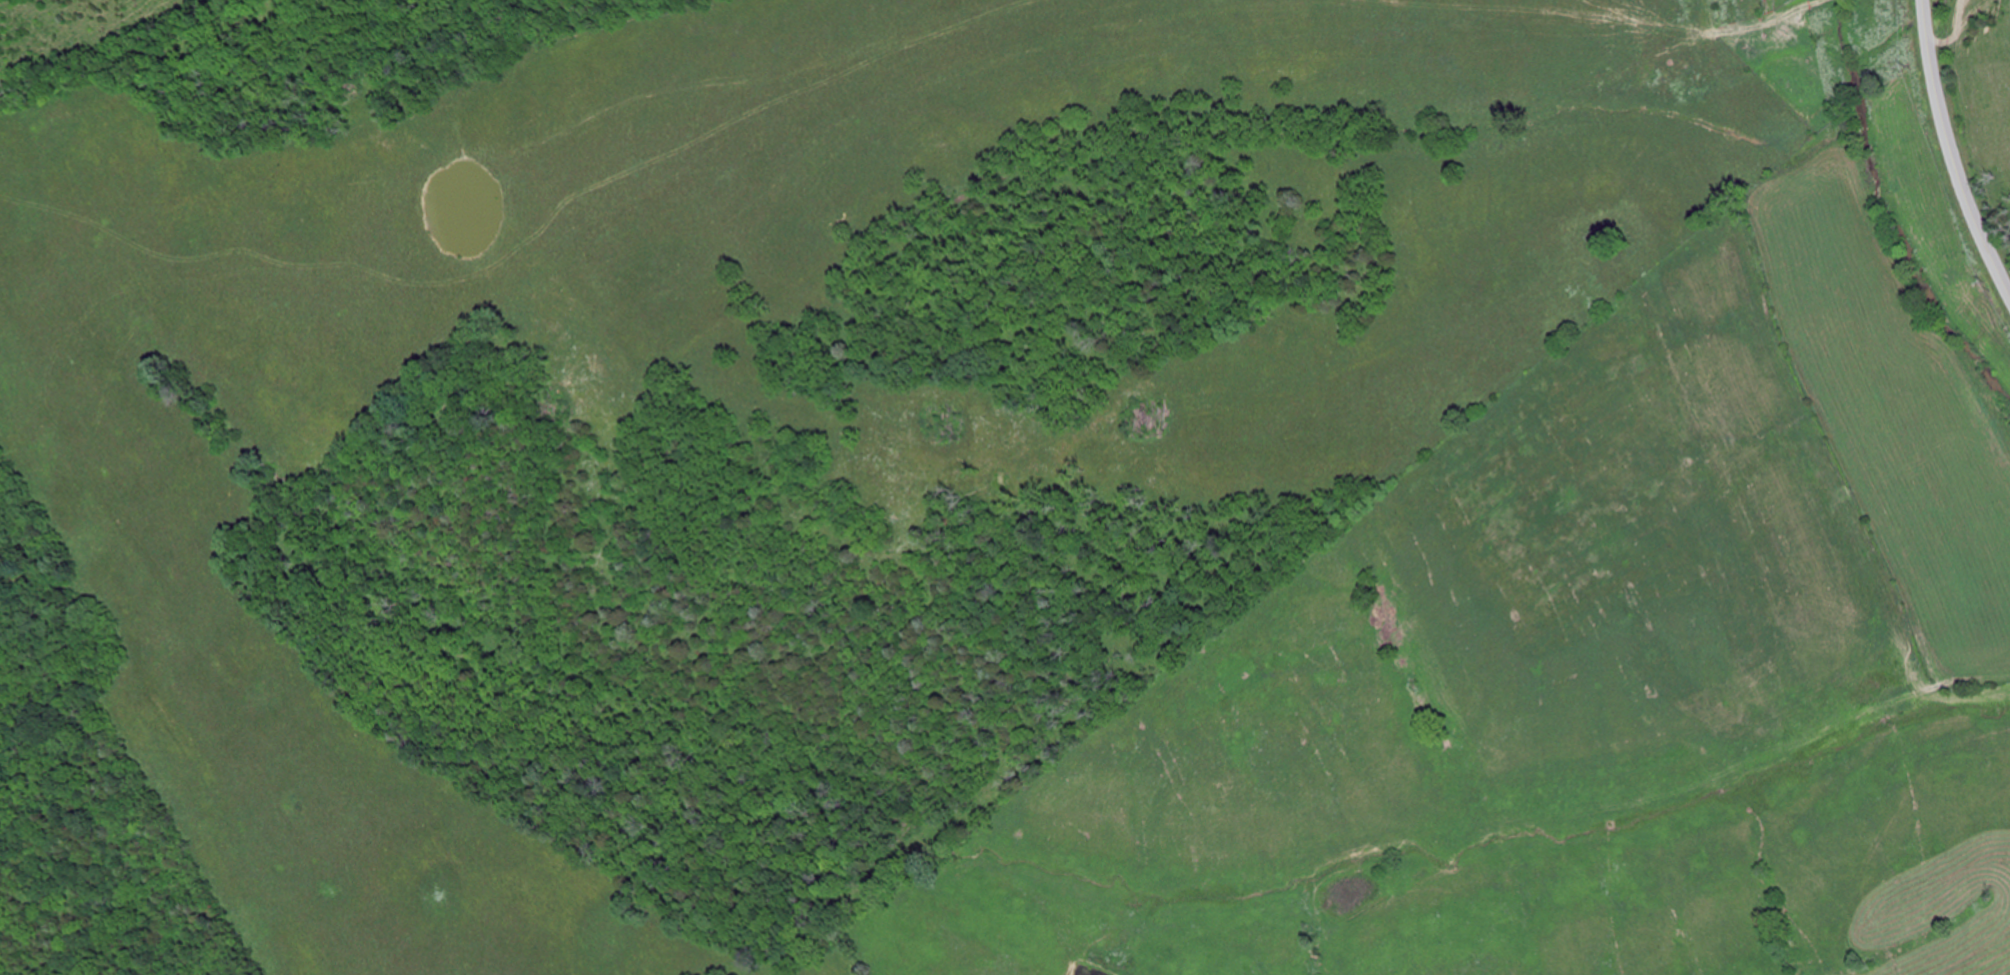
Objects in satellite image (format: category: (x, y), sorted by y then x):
road: (1950, 153)

